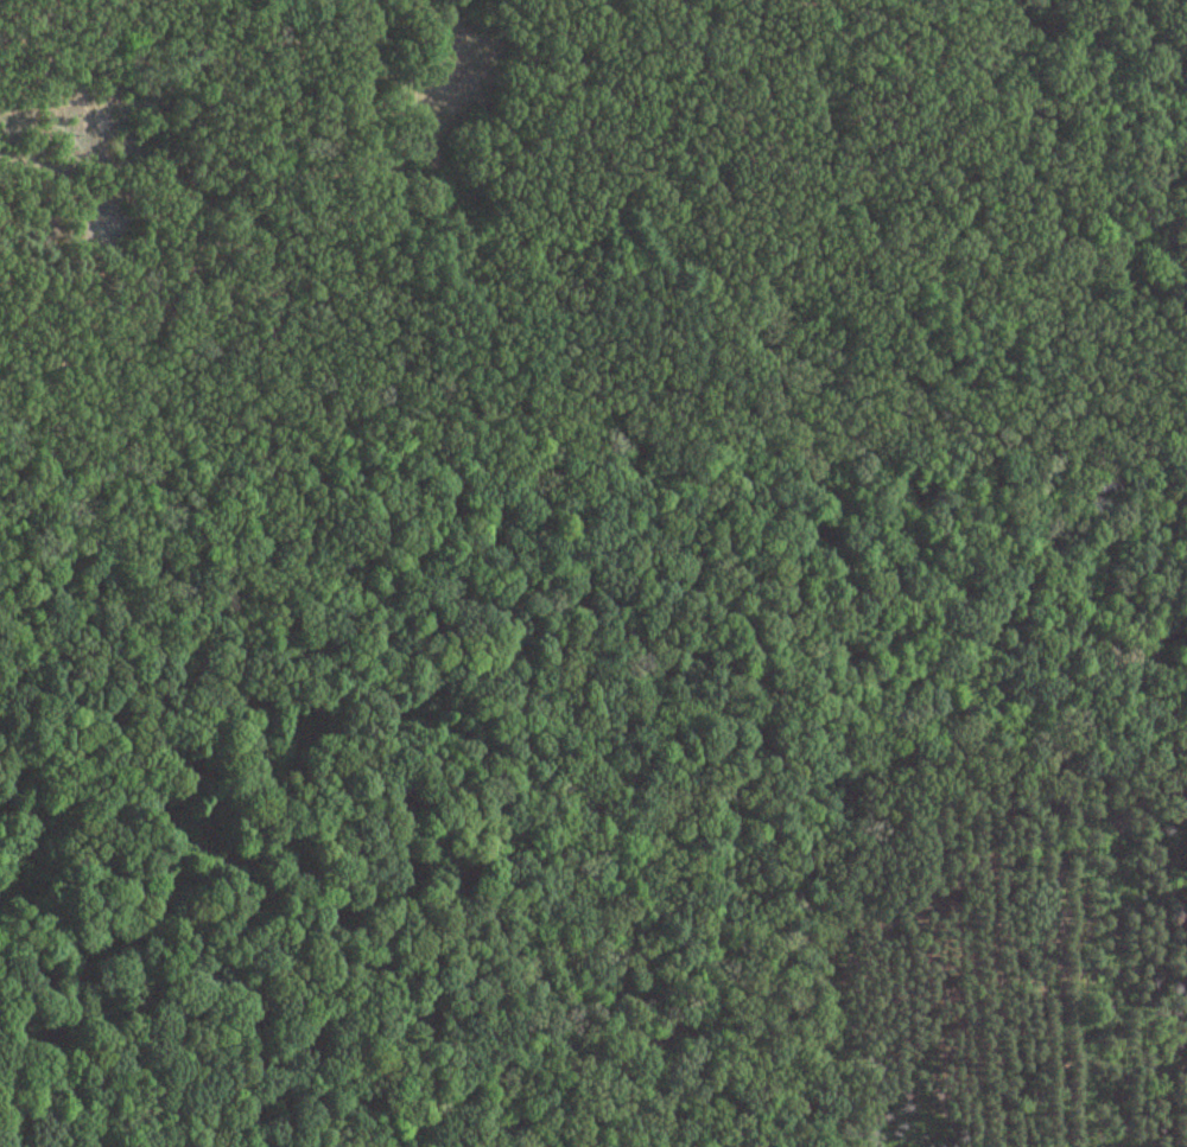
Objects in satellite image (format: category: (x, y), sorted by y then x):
road: (1001, 37)

